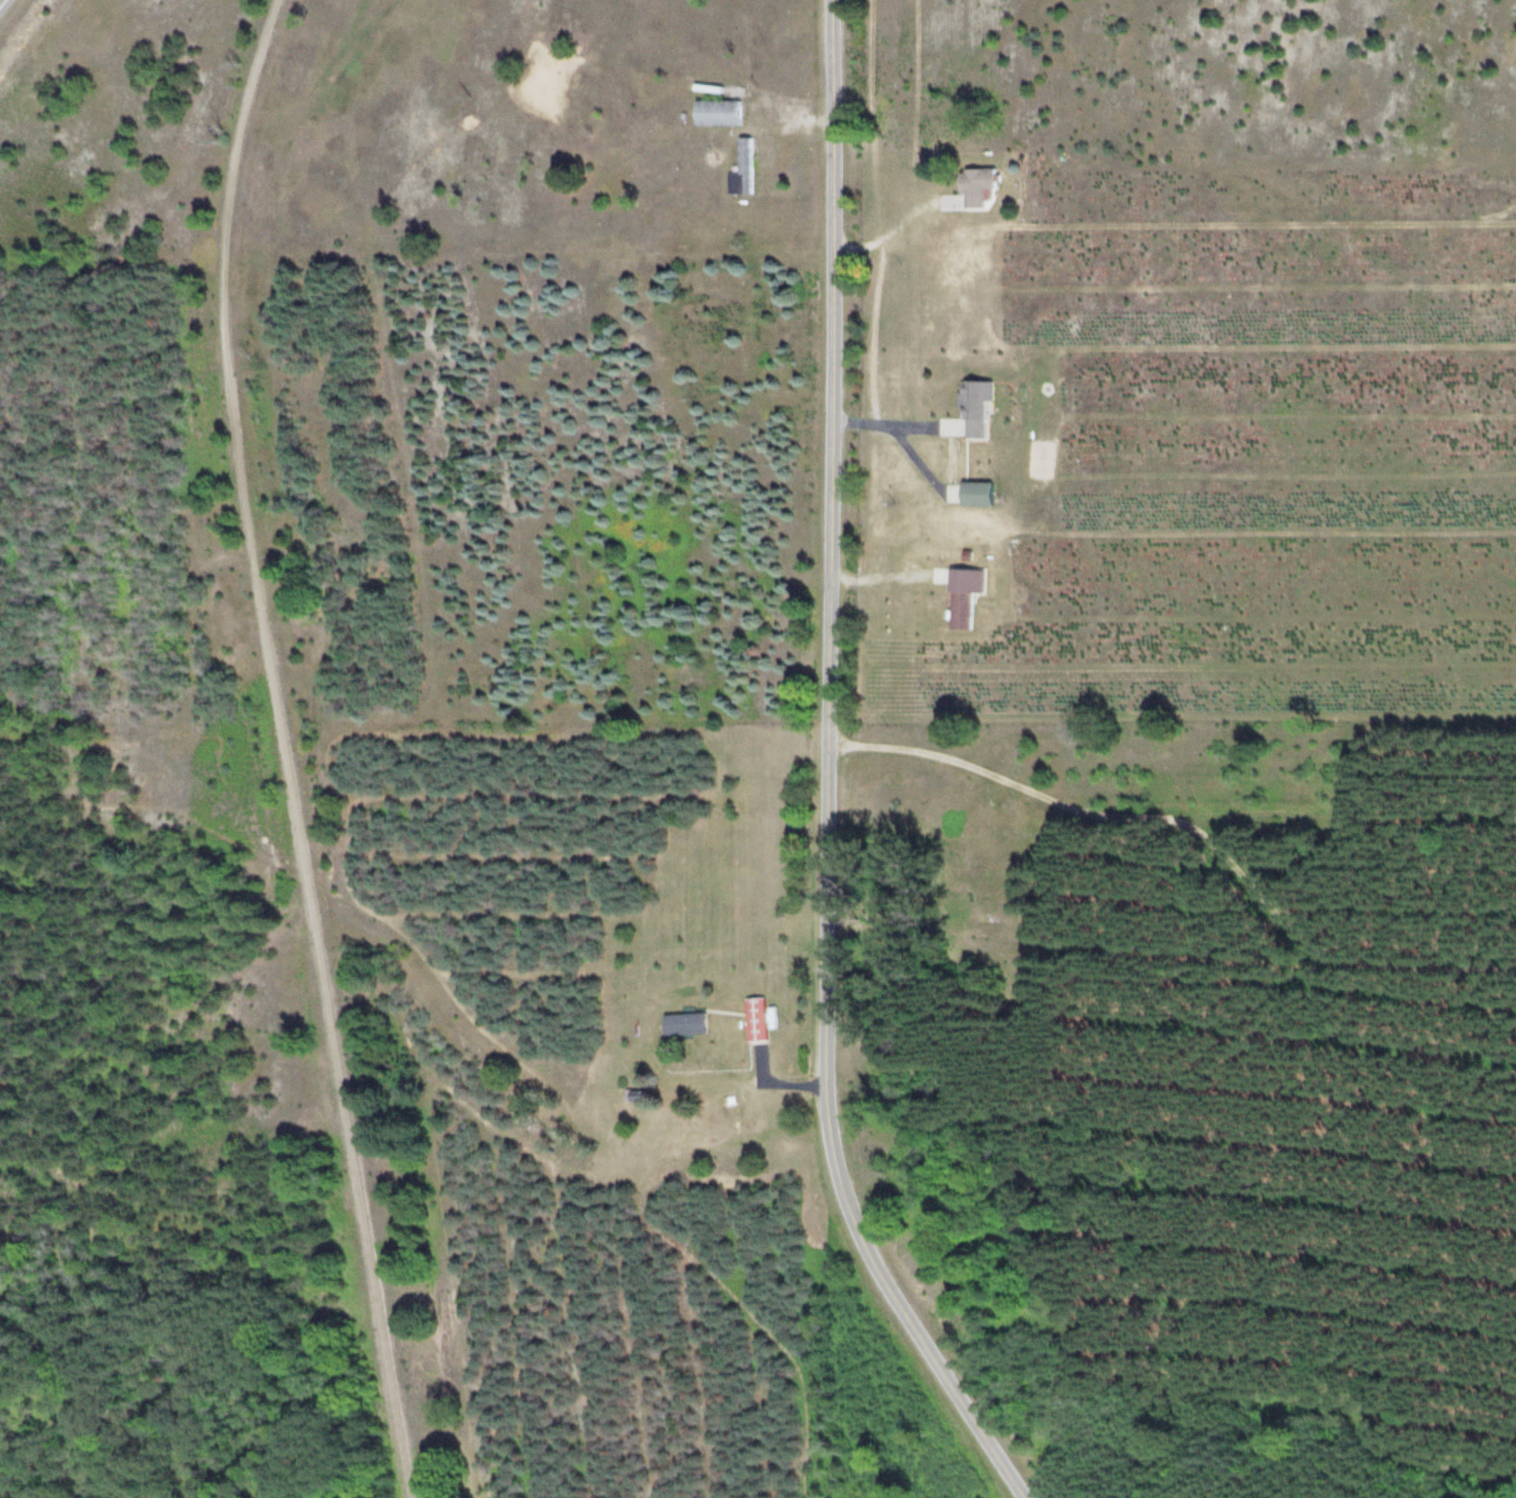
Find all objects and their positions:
building: (713, 113)
building: (739, 170)
building: (971, 186)
building: (967, 411)
building: (973, 494)
building: (957, 595)
road: (280, 748)
road: (826, 775)
building: (753, 1020)
building: (681, 1025)

